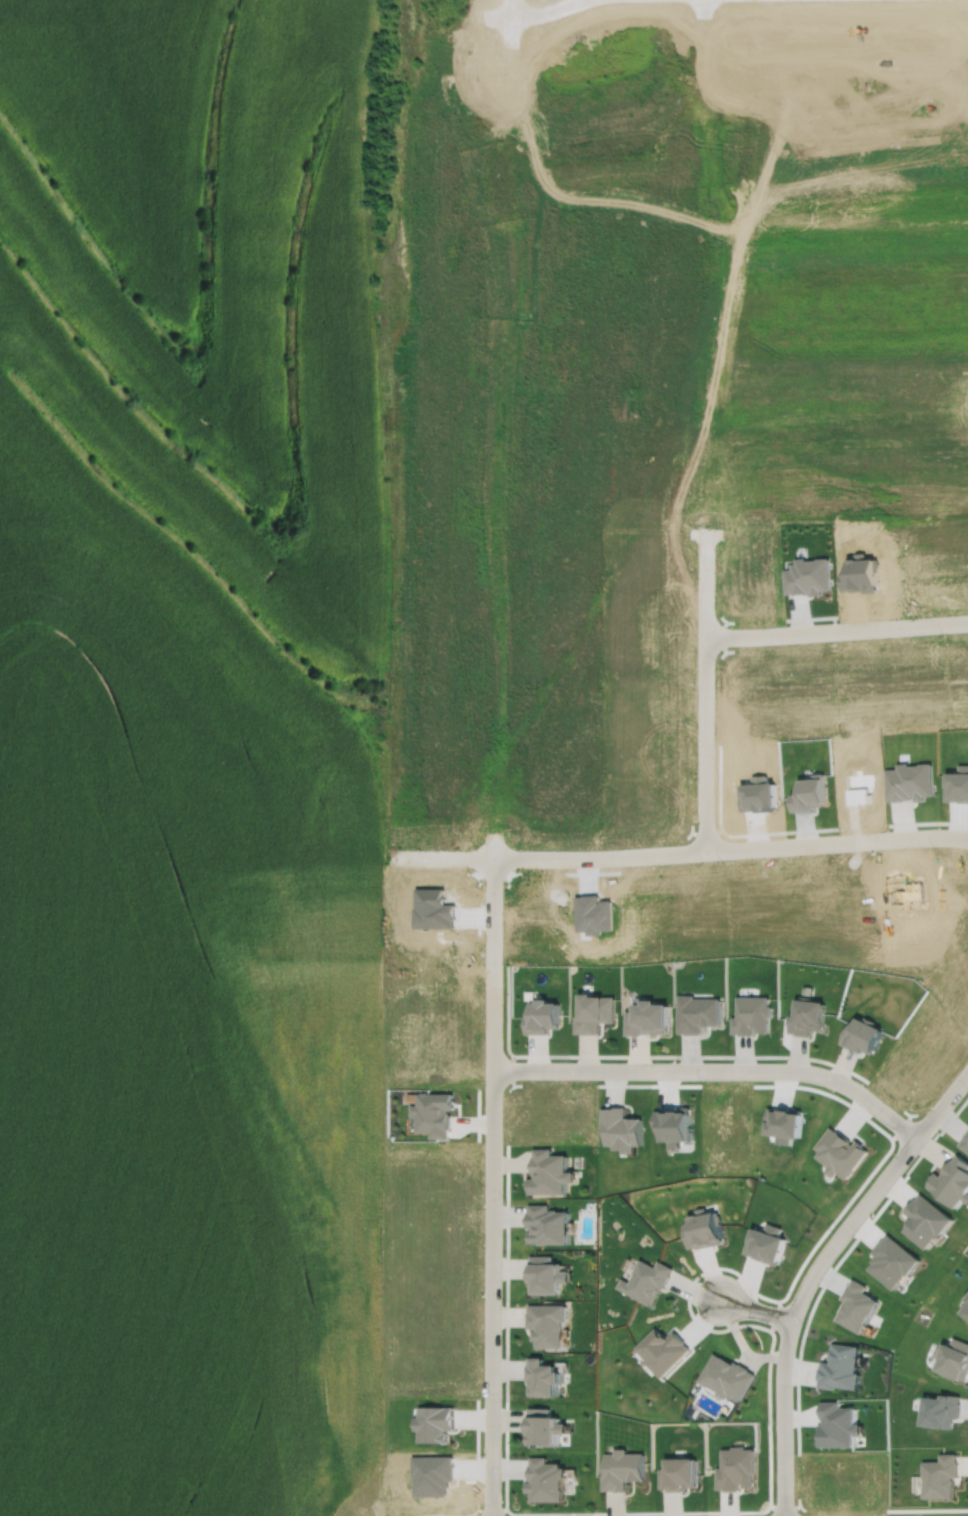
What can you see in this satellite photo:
road: (508, 7)
road: (542, 9)
road: (838, 632)
road: (709, 690)
crop: (188, 758)
road: (681, 849)
building: (594, 1014)
building: (698, 1014)
building: (753, 1016)
building: (543, 1018)
building: (809, 1018)
building: (648, 1019)
building: (863, 1036)
road: (645, 1056)
road: (714, 1071)
building: (434, 1113)
building: (675, 1124)
building: (621, 1129)
building: (964, 1142)
building: (840, 1153)
building: (548, 1173)
building: (952, 1182)
road: (492, 1185)
building: (546, 1225)
building: (703, 1229)
building: (766, 1243)
road: (814, 1271)
building: (544, 1275)
building: (645, 1281)
building: (967, 1300)
building: (857, 1306)
building: (966, 1308)
road: (755, 1309)
road: (775, 1315)
building: (546, 1325)
building: (662, 1350)
building: (954, 1357)
building: (841, 1367)
building: (726, 1378)
building: (541, 1379)
building: (941, 1408)
building: (434, 1423)
building: (545, 1425)
building: (837, 1427)
building: (623, 1468)
building: (735, 1468)
building: (681, 1473)
building: (940, 1475)
building: (547, 1478)
road: (926, 1509)
road: (701, 1512)

